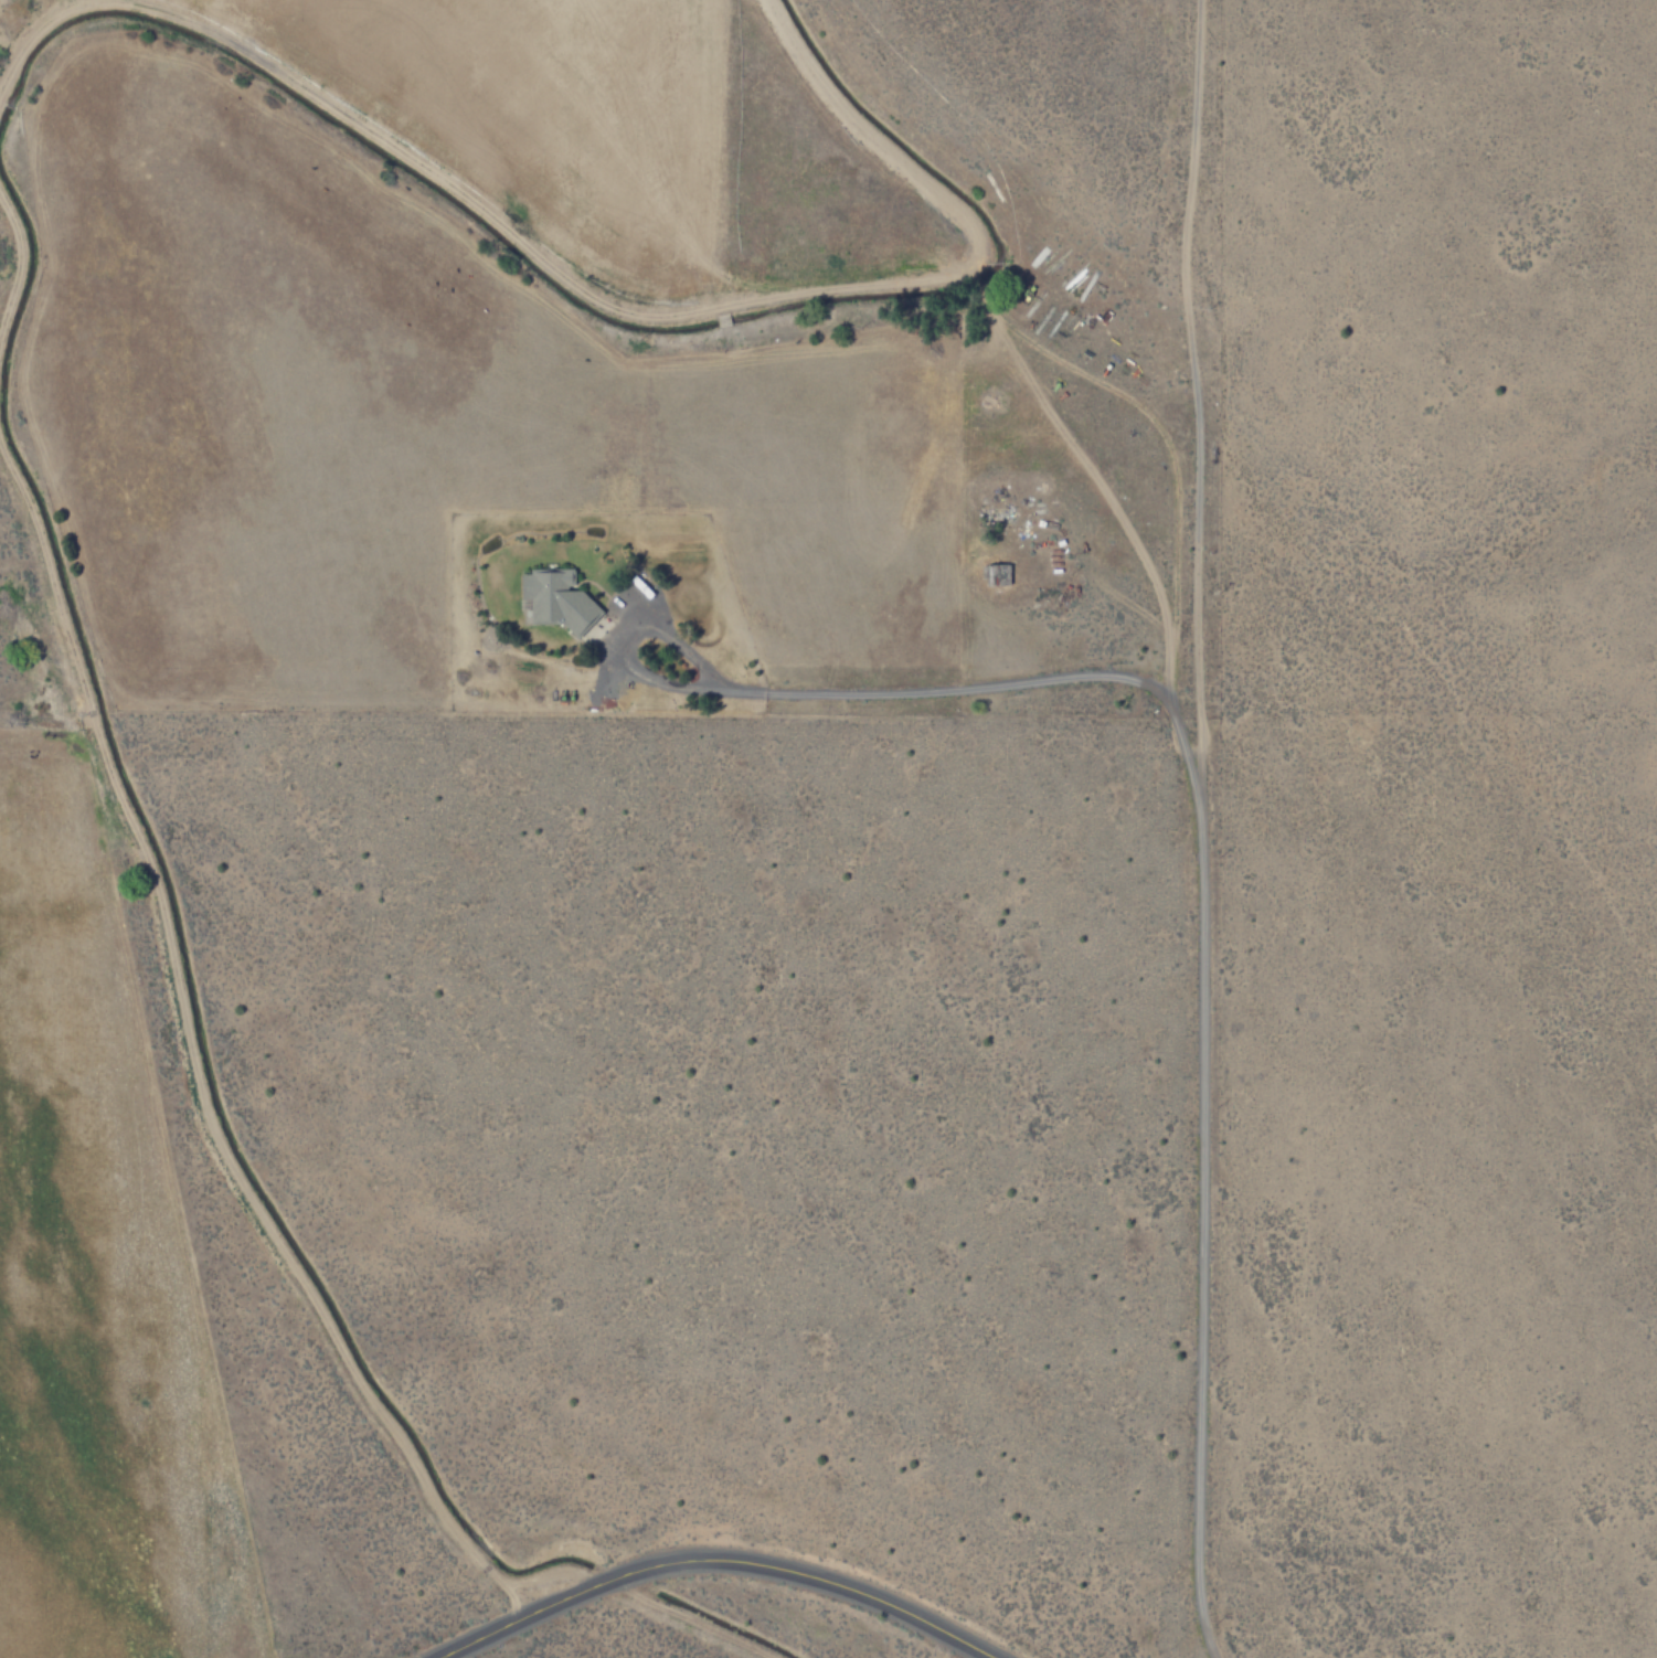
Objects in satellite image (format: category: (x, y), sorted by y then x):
crop: (517, 481)
building: (996, 575)
building: (552, 598)
road: (1194, 829)
road: (714, 1563)

